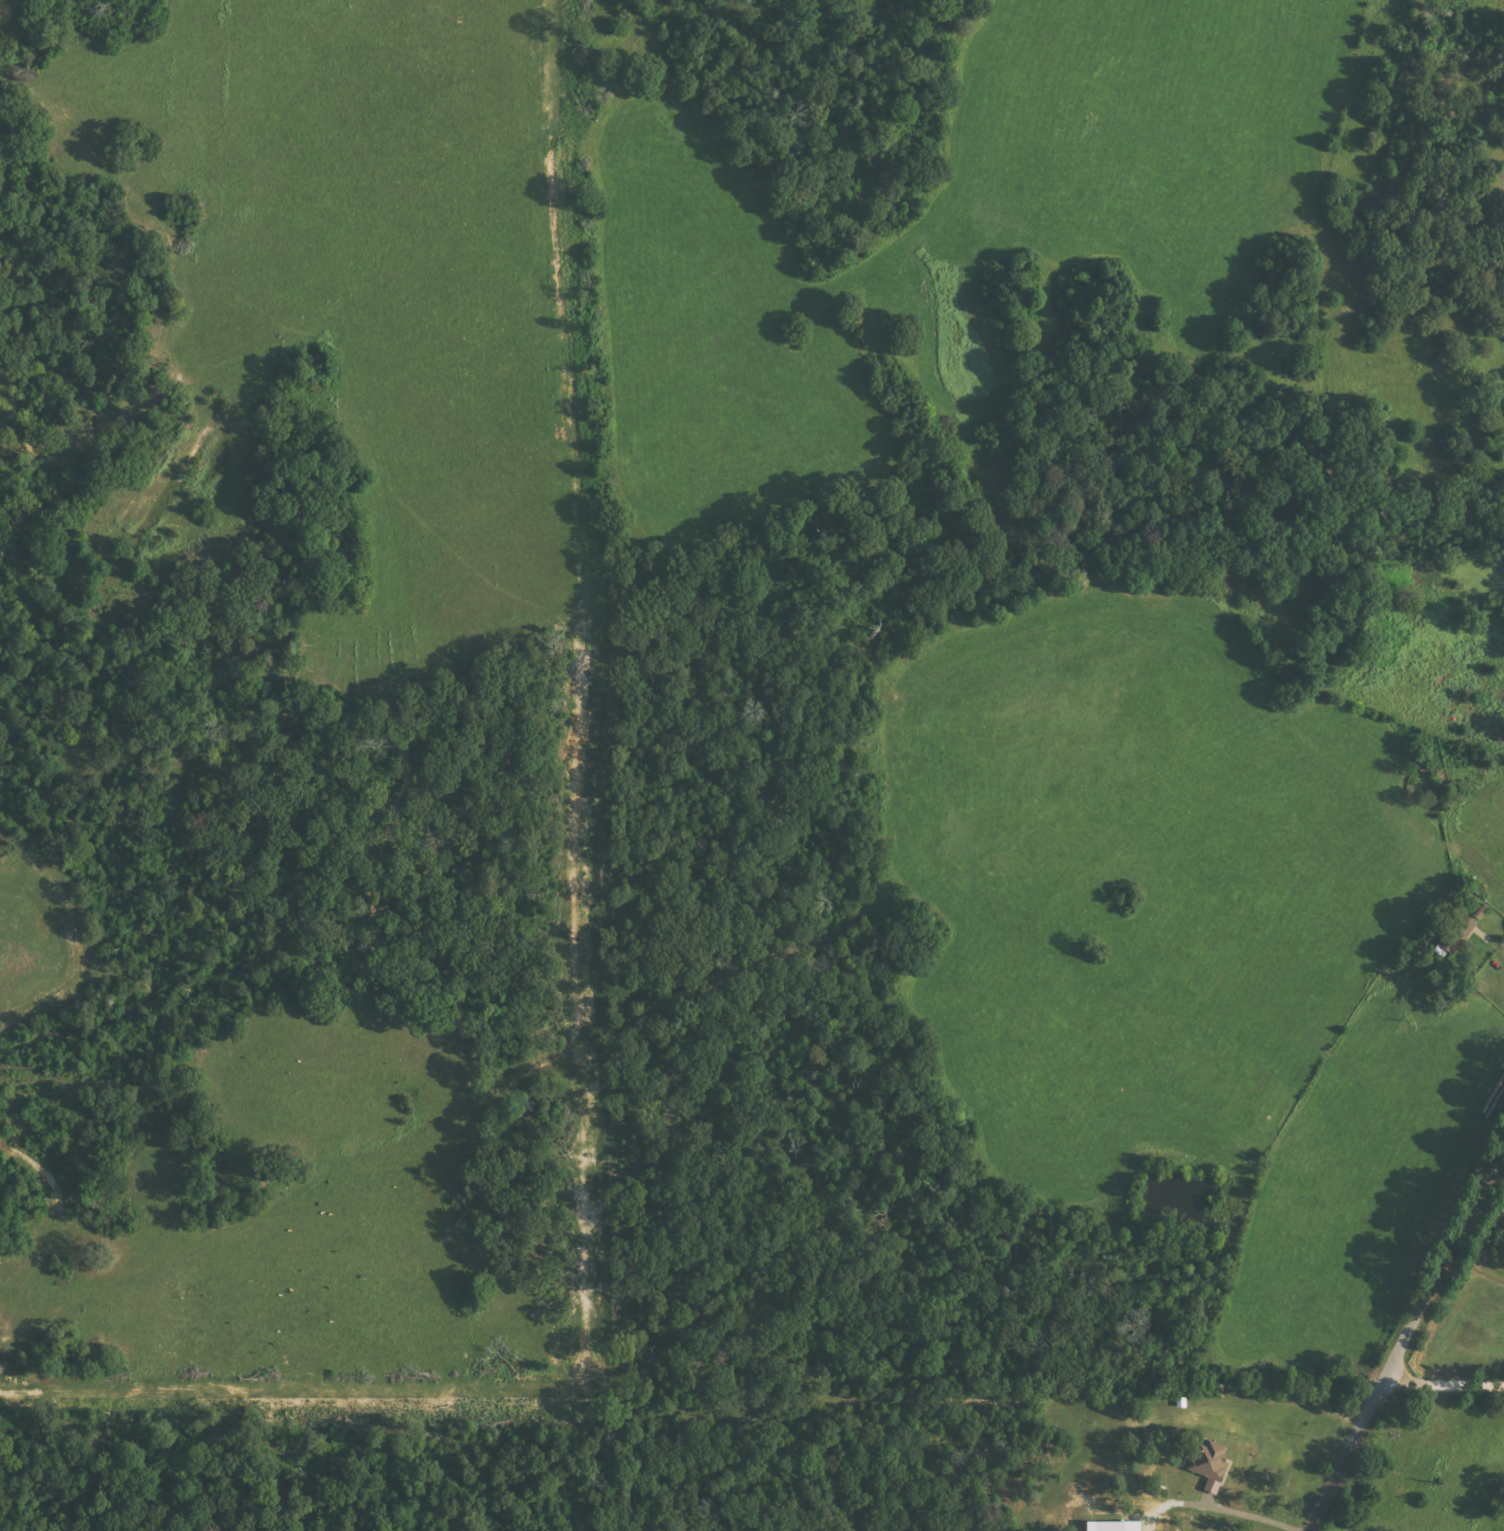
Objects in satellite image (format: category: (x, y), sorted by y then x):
building: (1478, 911)
building: (1458, 930)
road: (1407, 1339)
road: (1444, 1385)
building: (1207, 1464)

